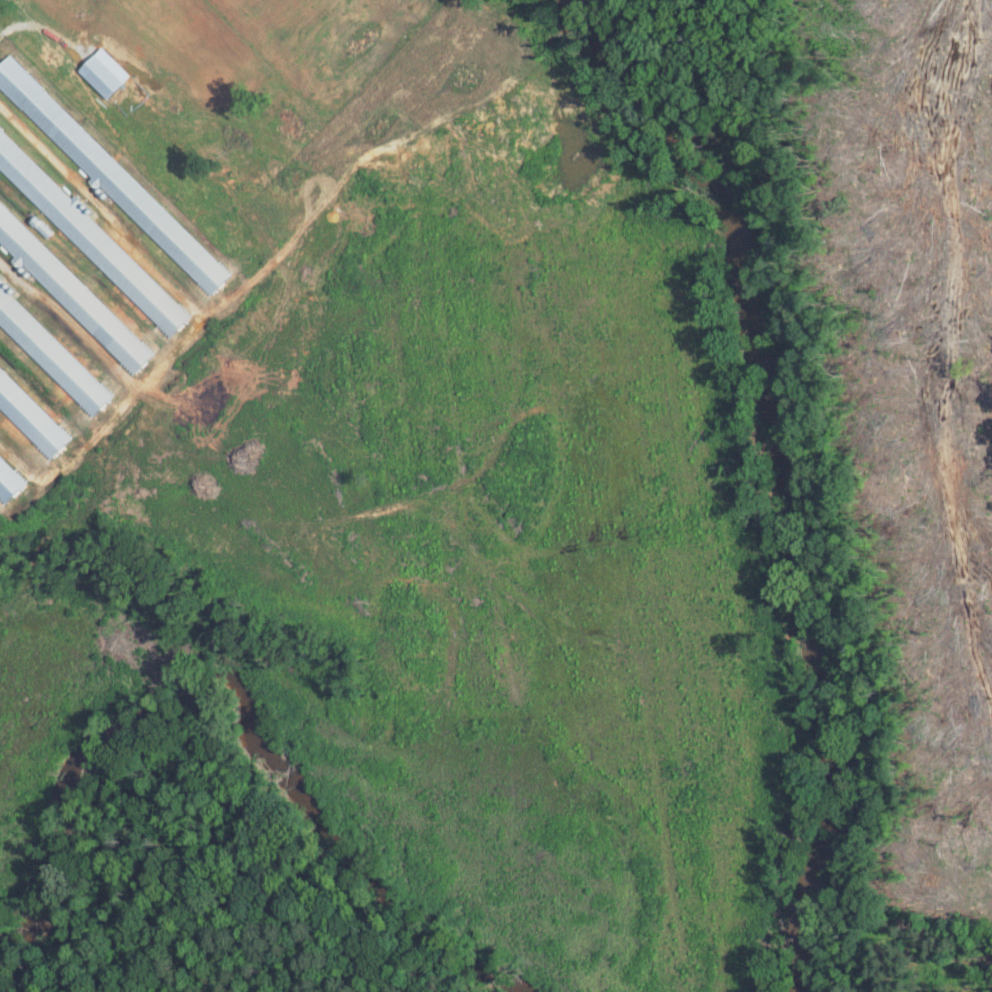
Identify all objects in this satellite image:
building: (101, 77)
building: (113, 177)
building: (91, 238)
building: (72, 293)
building: (53, 354)
building: (32, 417)
building: (11, 480)

